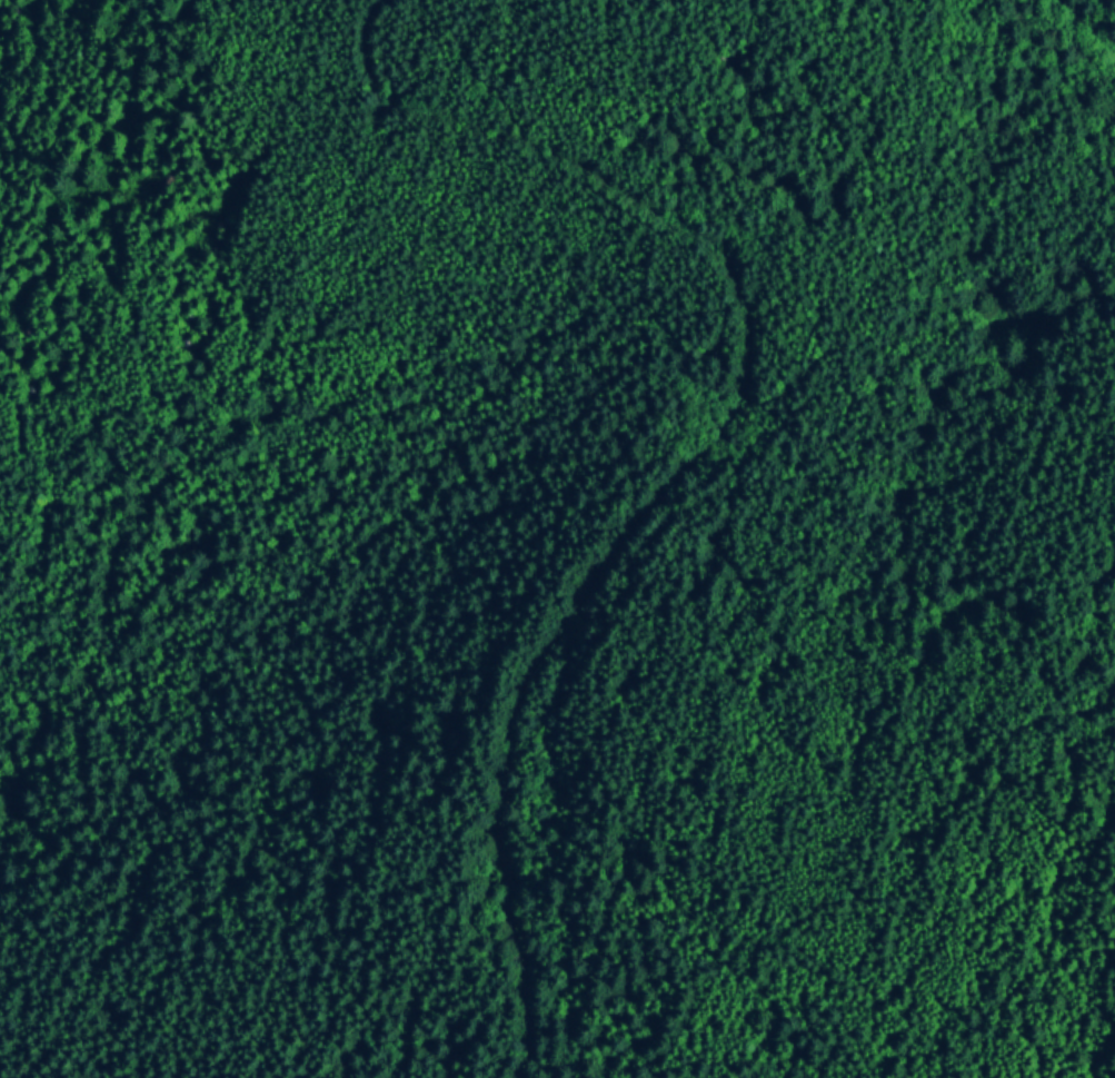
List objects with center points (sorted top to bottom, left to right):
road: (1094, 18)
road: (704, 442)
building: (269, 1062)

